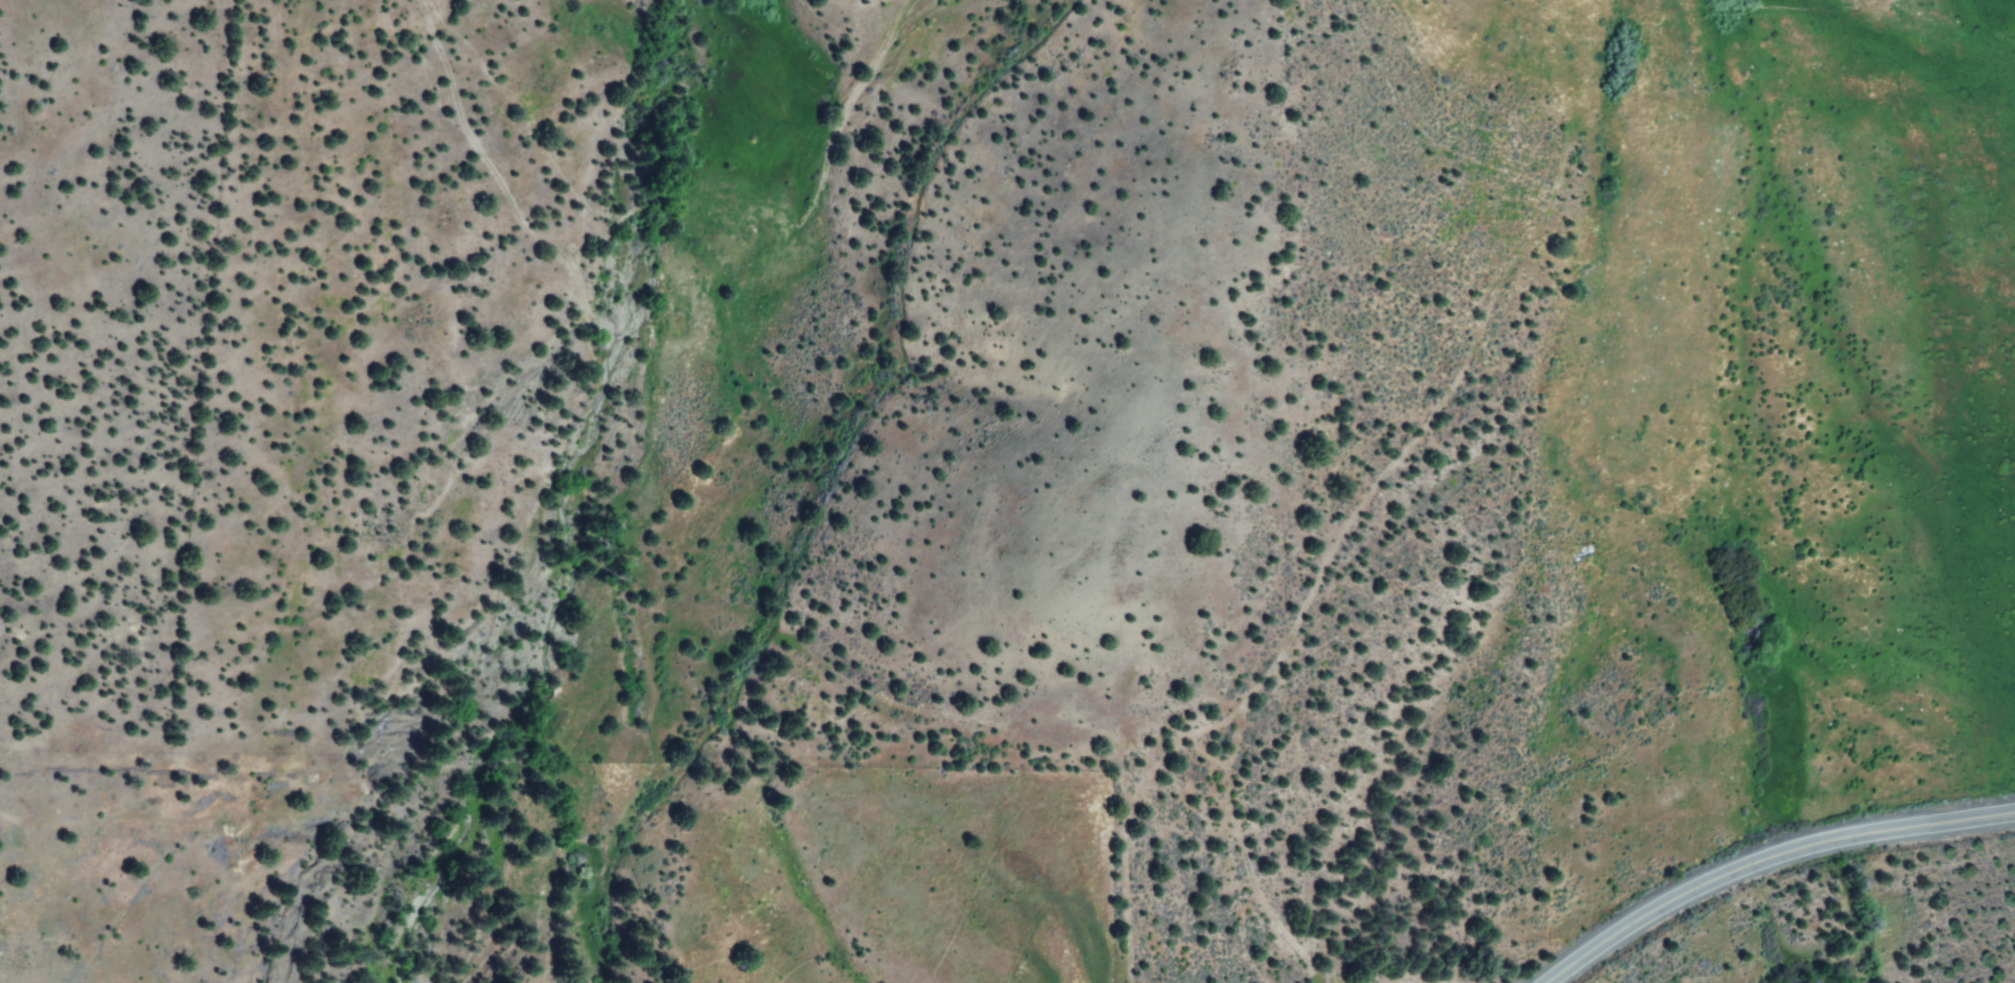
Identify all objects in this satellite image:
road: (1766, 861)

